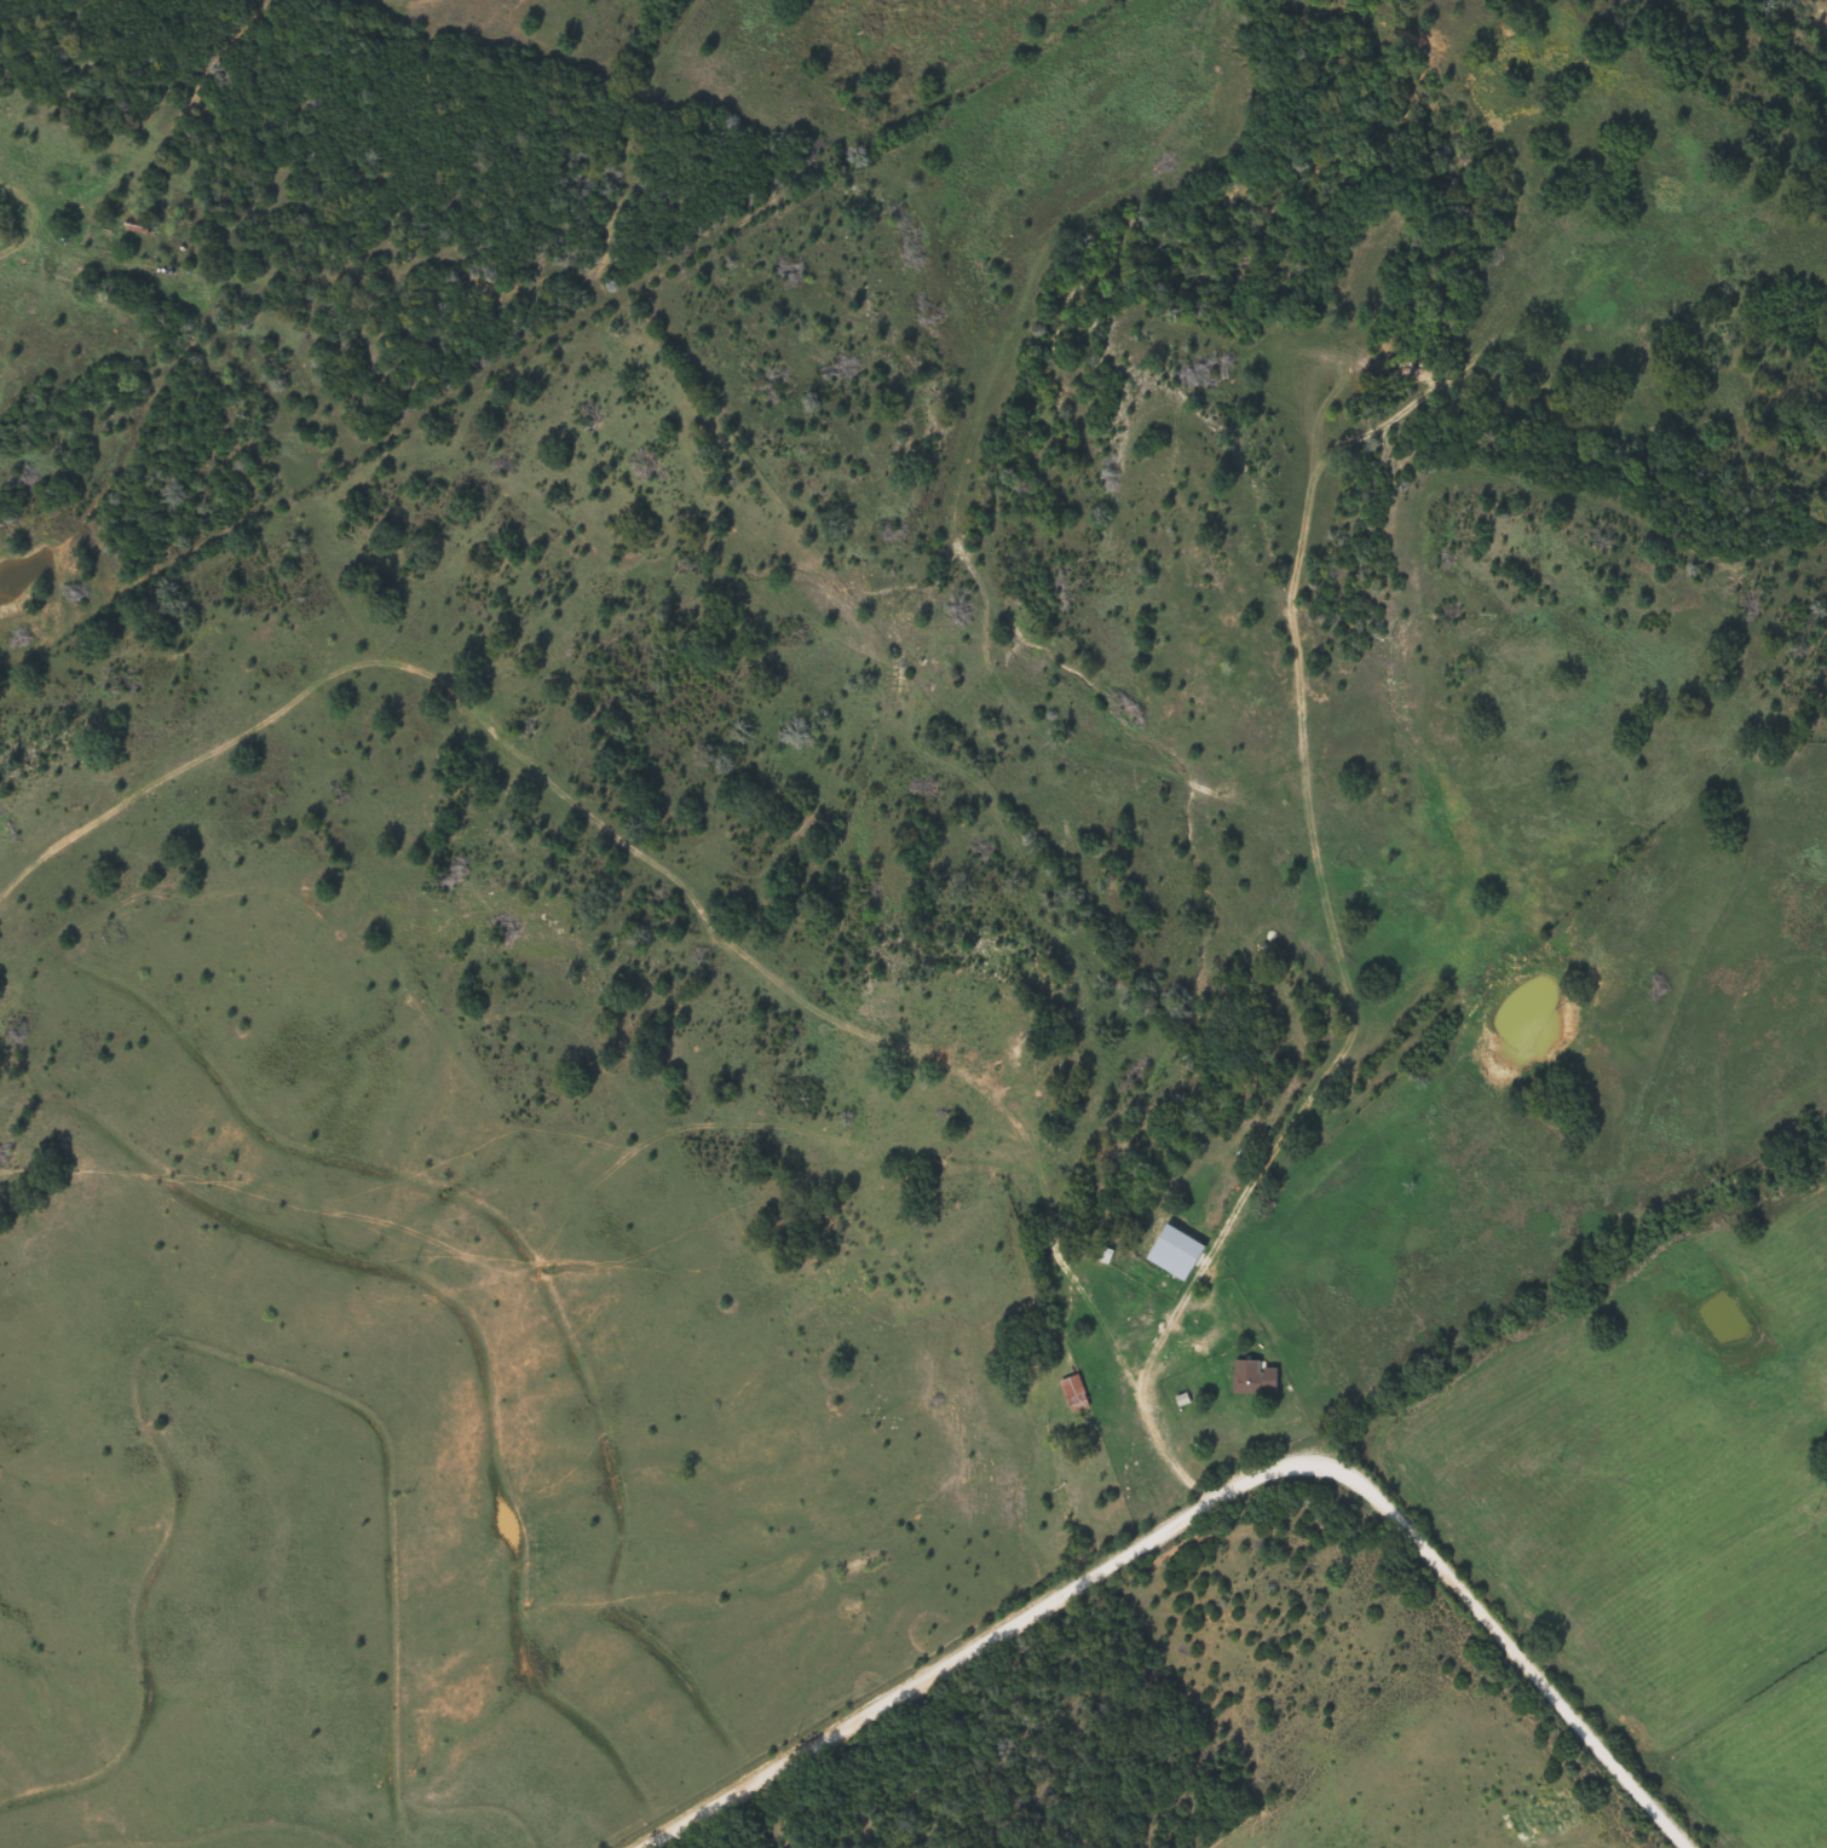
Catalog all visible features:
building: (1180, 1254)
building: (1250, 1381)
building: (1077, 1394)
road: (1208, 1508)

